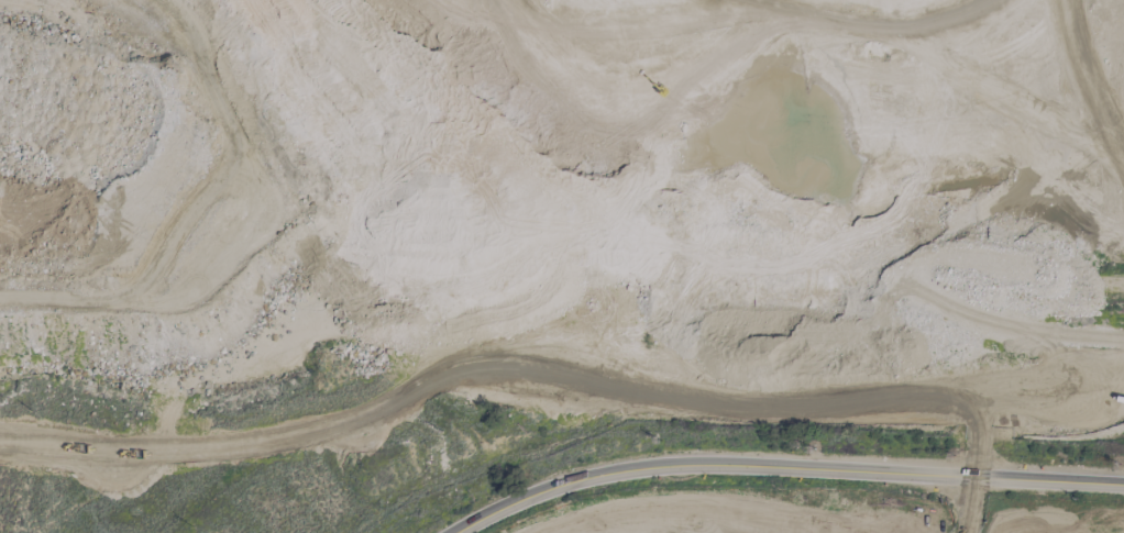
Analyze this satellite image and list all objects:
quarry: (511, 179)
road: (784, 469)

